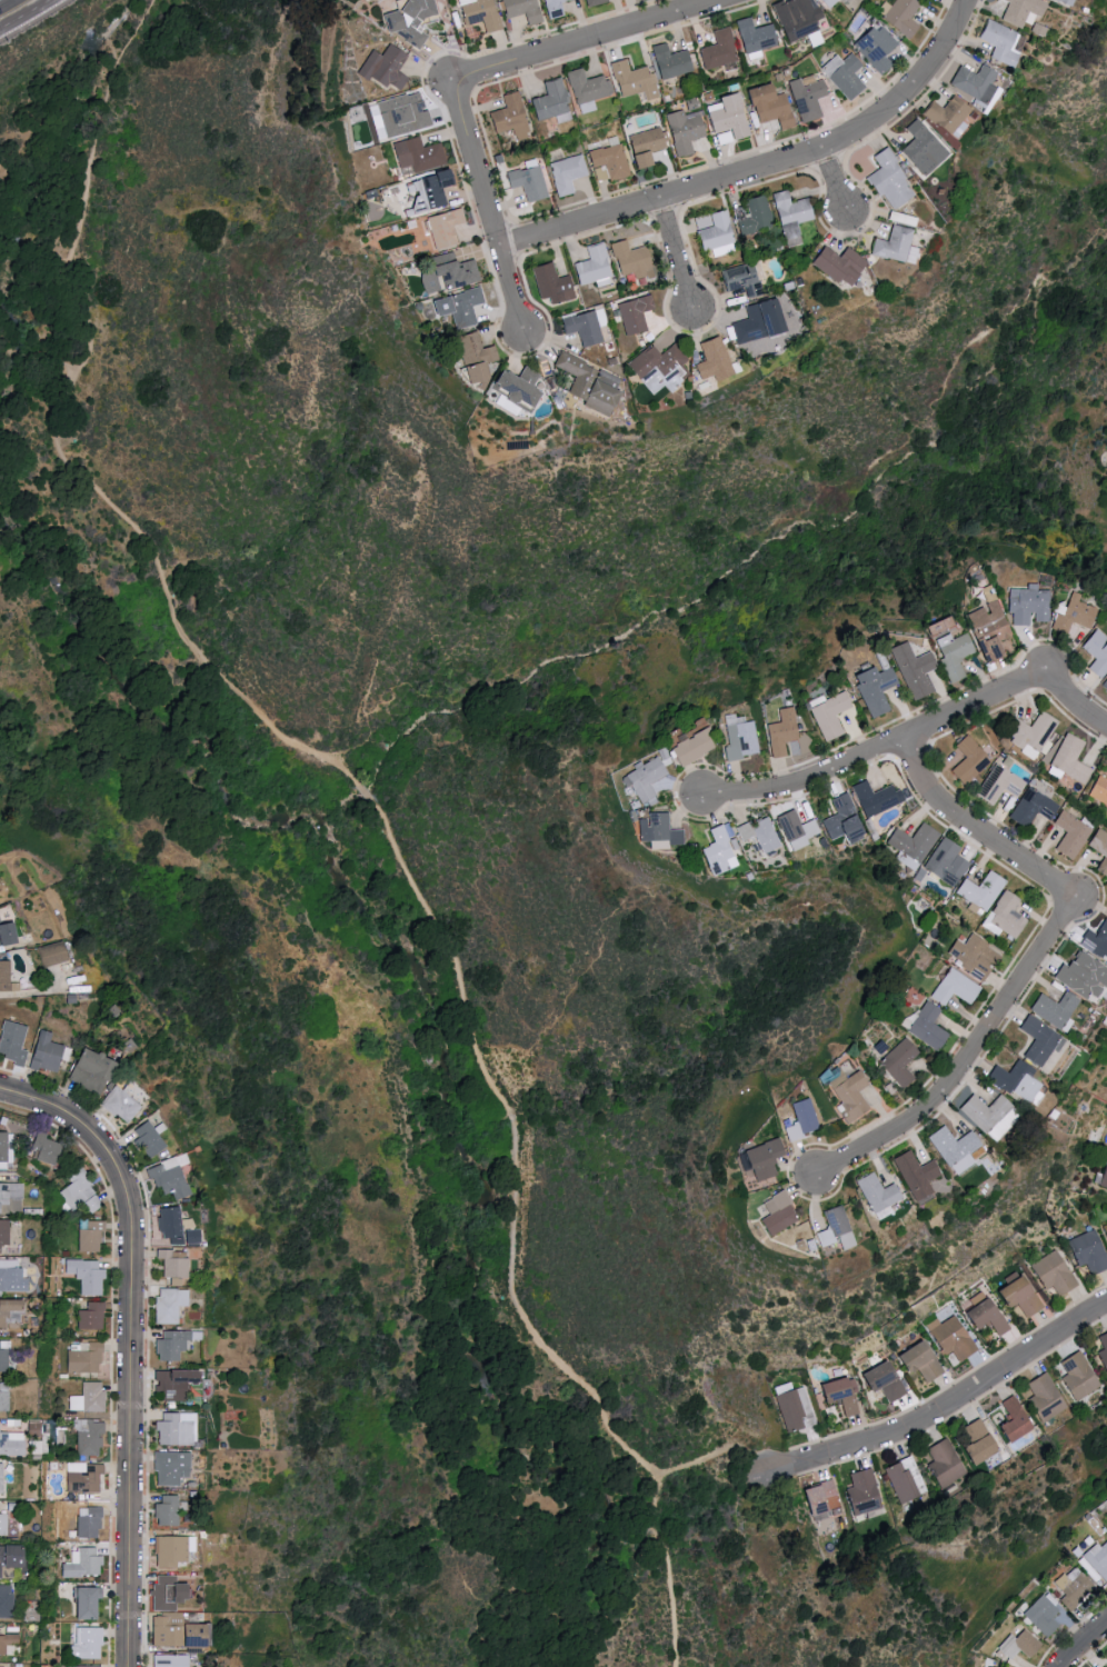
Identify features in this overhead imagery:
building: (1066, 1)
road: (4, 2)
building: (592, 2)
building: (826, 2)
building: (550, 8)
building: (519, 10)
building: (1019, 10)
building: (477, 13)
building: (897, 14)
road: (27, 16)
building: (794, 17)
building: (408, 19)
building: (752, 37)
road: (590, 40)
building: (997, 41)
building: (874, 46)
building: (717, 49)
building: (668, 61)
building: (382, 68)
building: (841, 74)
building: (631, 80)
building: (970, 83)
building: (586, 89)
building: (806, 98)
building: (549, 101)
building: (767, 106)
building: (400, 113)
building: (507, 116)
building: (945, 116)
building: (726, 118)
building: (681, 131)
building: (642, 146)
building: (919, 148)
building: (416, 153)
building: (608, 160)
road: (767, 170)
building: (565, 173)
building: (887, 179)
building: (527, 181)
road: (836, 182)
building: (431, 188)
road: (86, 207)
road: (489, 207)
building: (751, 214)
building: (789, 216)
building: (442, 227)
building: (714, 233)
building: (894, 244)
building: (629, 258)
road: (677, 258)
building: (837, 263)
building: (591, 266)
building: (446, 272)
building: (739, 279)
building: (549, 283)
building: (456, 306)
building: (632, 313)
building: (756, 321)
building: (581, 327)
building: (470, 357)
building: (711, 360)
building: (658, 363)
building: (586, 382)
road: (9, 387)
building: (512, 387)
road: (22, 403)
road: (42, 429)
road: (750, 558)
building: (1026, 606)
building: (1073, 615)
road: (177, 619)
building: (988, 633)
building: (1096, 651)
building: (954, 656)
building: (915, 671)
building: (1104, 685)
building: (875, 691)
building: (830, 717)
building: (782, 732)
building: (1030, 732)
road: (918, 735)
building: (741, 742)
building: (695, 747)
building: (1069, 760)
building: (970, 762)
building: (646, 780)
building: (999, 786)
road: (360, 789)
building: (1099, 795)
building: (876, 800)
building: (1031, 809)
building: (844, 821)
building: (797, 831)
building: (659, 832)
building: (760, 835)
park: (466, 836)
building: (1070, 836)
building: (914, 844)
building: (1100, 850)
building: (719, 852)
building: (946, 865)
building: (981, 892)
building: (1106, 894)
building: (1008, 916)
building: (10, 934)
building: (1095, 945)
building: (53, 952)
building: (975, 958)
road: (1036, 960)
building: (7, 977)
building: (1084, 979)
building: (955, 988)
building: (1055, 1010)
building: (927, 1028)
building: (14, 1041)
building: (1039, 1042)
building: (47, 1052)
building: (899, 1064)
building: (98, 1068)
building: (1016, 1082)
building: (850, 1096)
building: (122, 1104)
building: (986, 1114)
building: (801, 1122)
building: (150, 1138)
building: (48, 1148)
road: (512, 1148)
building: (955, 1149)
building: (765, 1159)
building: (916, 1176)
building: (170, 1178)
building: (1104, 1179)
building: (78, 1189)
building: (877, 1194)
building: (91, 1202)
building: (778, 1214)
building: (178, 1227)
building: (834, 1227)
building: (1105, 1231)
building: (4, 1232)
building: (91, 1235)
building: (1088, 1254)
building: (176, 1265)
building: (1053, 1274)
building: (89, 1276)
building: (4, 1277)
building: (1019, 1297)
building: (172, 1304)
building: (93, 1316)
building: (988, 1318)
building: (953, 1339)
road: (132, 1344)
building: (174, 1345)
building: (1104, 1352)
building: (4, 1355)
building: (87, 1357)
building: (920, 1362)
building: (1079, 1378)
building: (177, 1382)
building: (882, 1382)
building: (4, 1396)
building: (90, 1397)
building: (840, 1397)
building: (1045, 1400)
building: (795, 1411)
road: (943, 1414)
building: (1016, 1420)
building: (177, 1428)
building: (90, 1437)
building: (12, 1443)
building: (979, 1444)
building: (945, 1465)
building: (172, 1467)
building: (2, 1477)
building: (905, 1481)
building: (864, 1494)
building: (821, 1499)
building: (168, 1510)
road: (656, 1515)
building: (91, 1521)
building: (3, 1524)
building: (172, 1550)
building: (13, 1556)
building: (84, 1563)
building: (1097, 1565)
building: (1074, 1591)
building: (171, 1593)
building: (7, 1600)
building: (90, 1601)
building: (1041, 1616)
building: (182, 1631)
building: (8, 1641)
building: (89, 1643)
road: (1084, 1644)
building: (1018, 1646)
building: (1106, 1658)
building: (172, 1660)
building: (84, 1666)
building: (1106, 1666)

